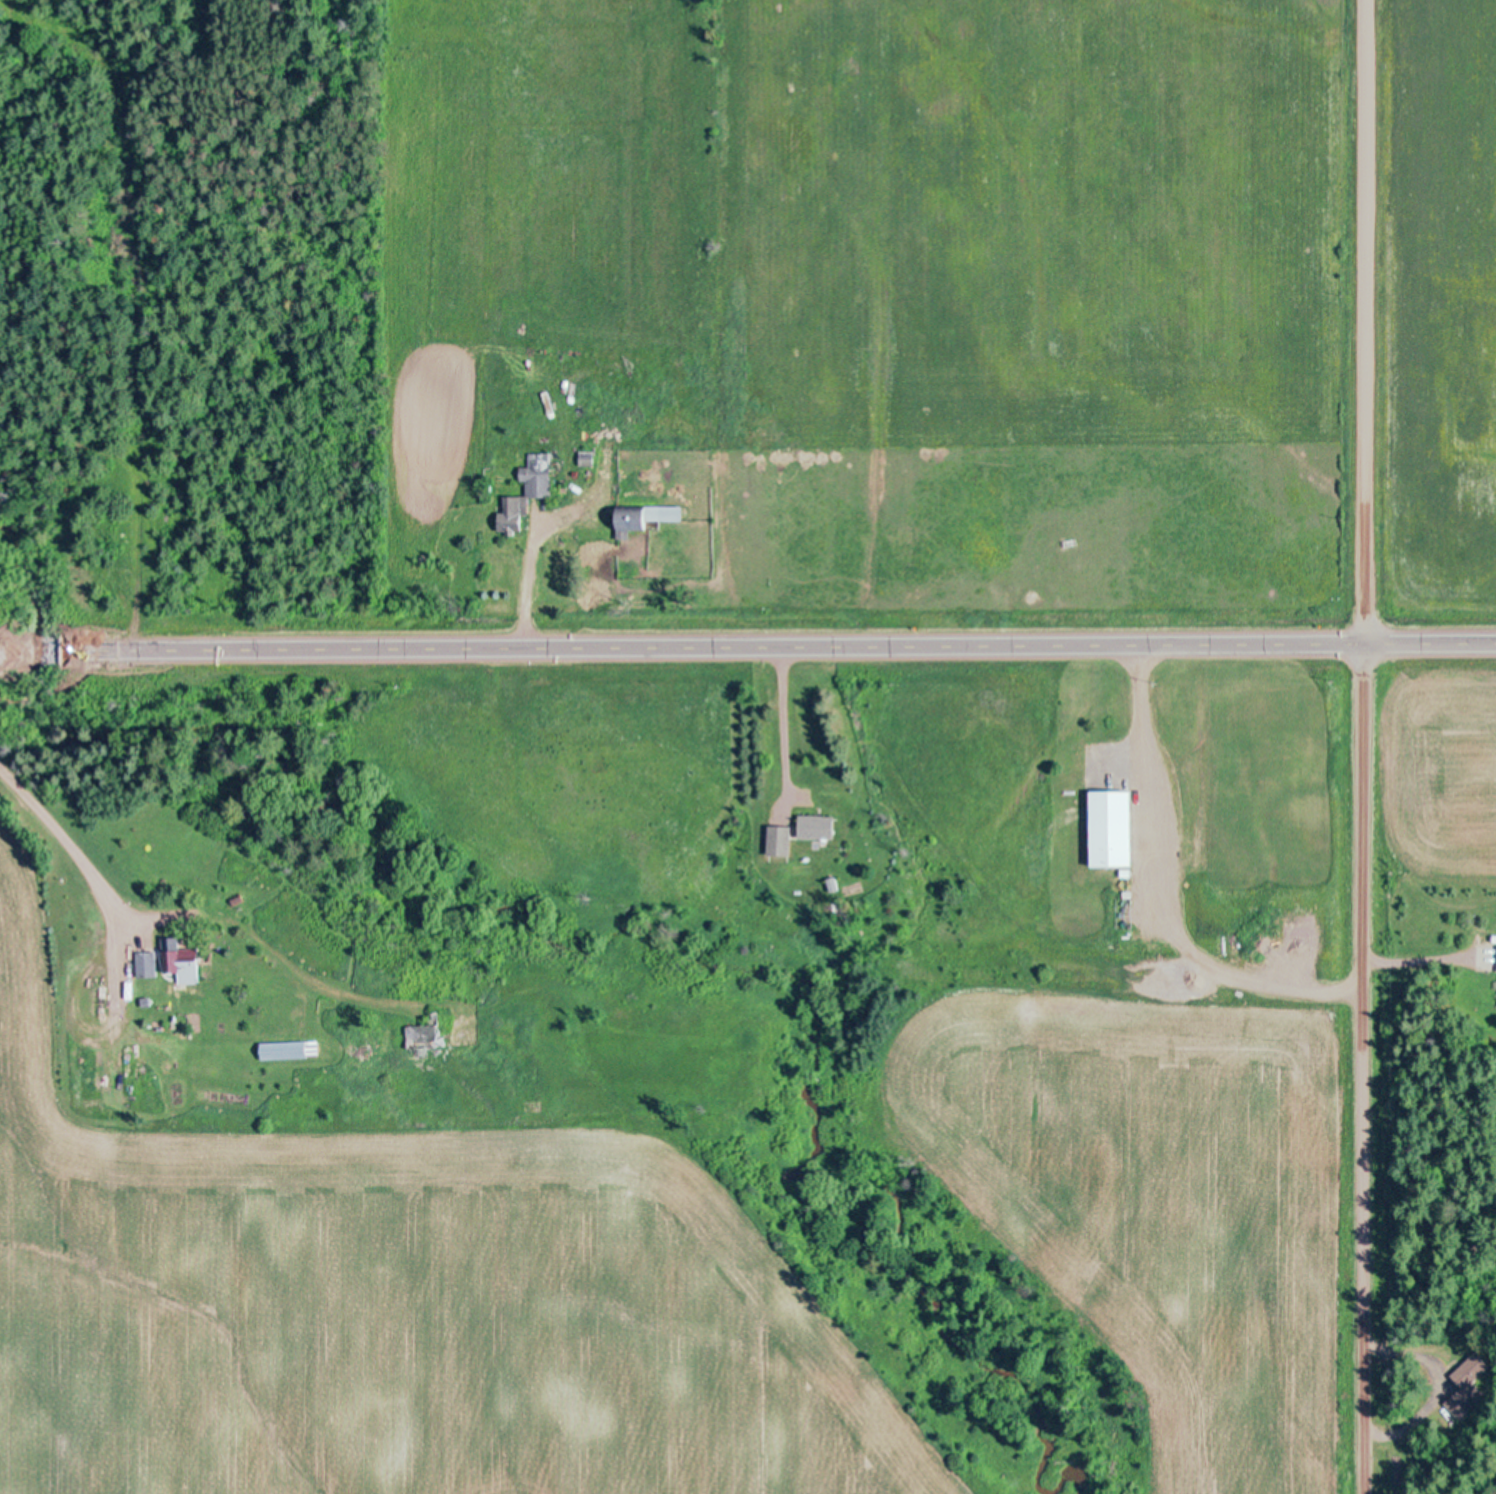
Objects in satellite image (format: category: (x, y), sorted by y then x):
crop: (1434, 316)
road: (1361, 323)
building: (589, 457)
building: (529, 492)
building: (643, 516)
road: (748, 652)
building: (818, 826)
building: (1112, 828)
building: (781, 839)
road: (1164, 894)
road: (47, 902)
building: (148, 963)
building: (185, 963)
road: (1427, 964)
building: (423, 1035)
building: (291, 1048)
road: (1361, 1070)
building: (1468, 1383)

